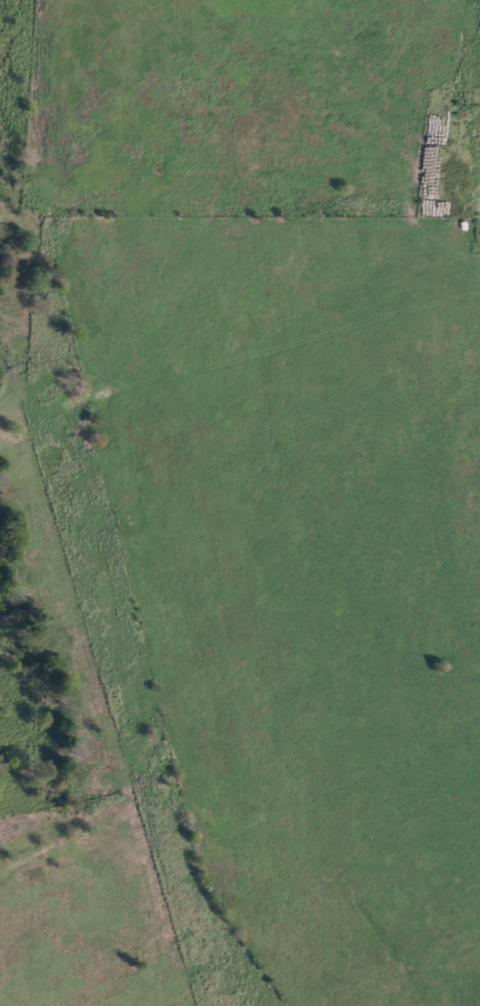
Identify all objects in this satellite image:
road: (196, 297)
road: (331, 315)

